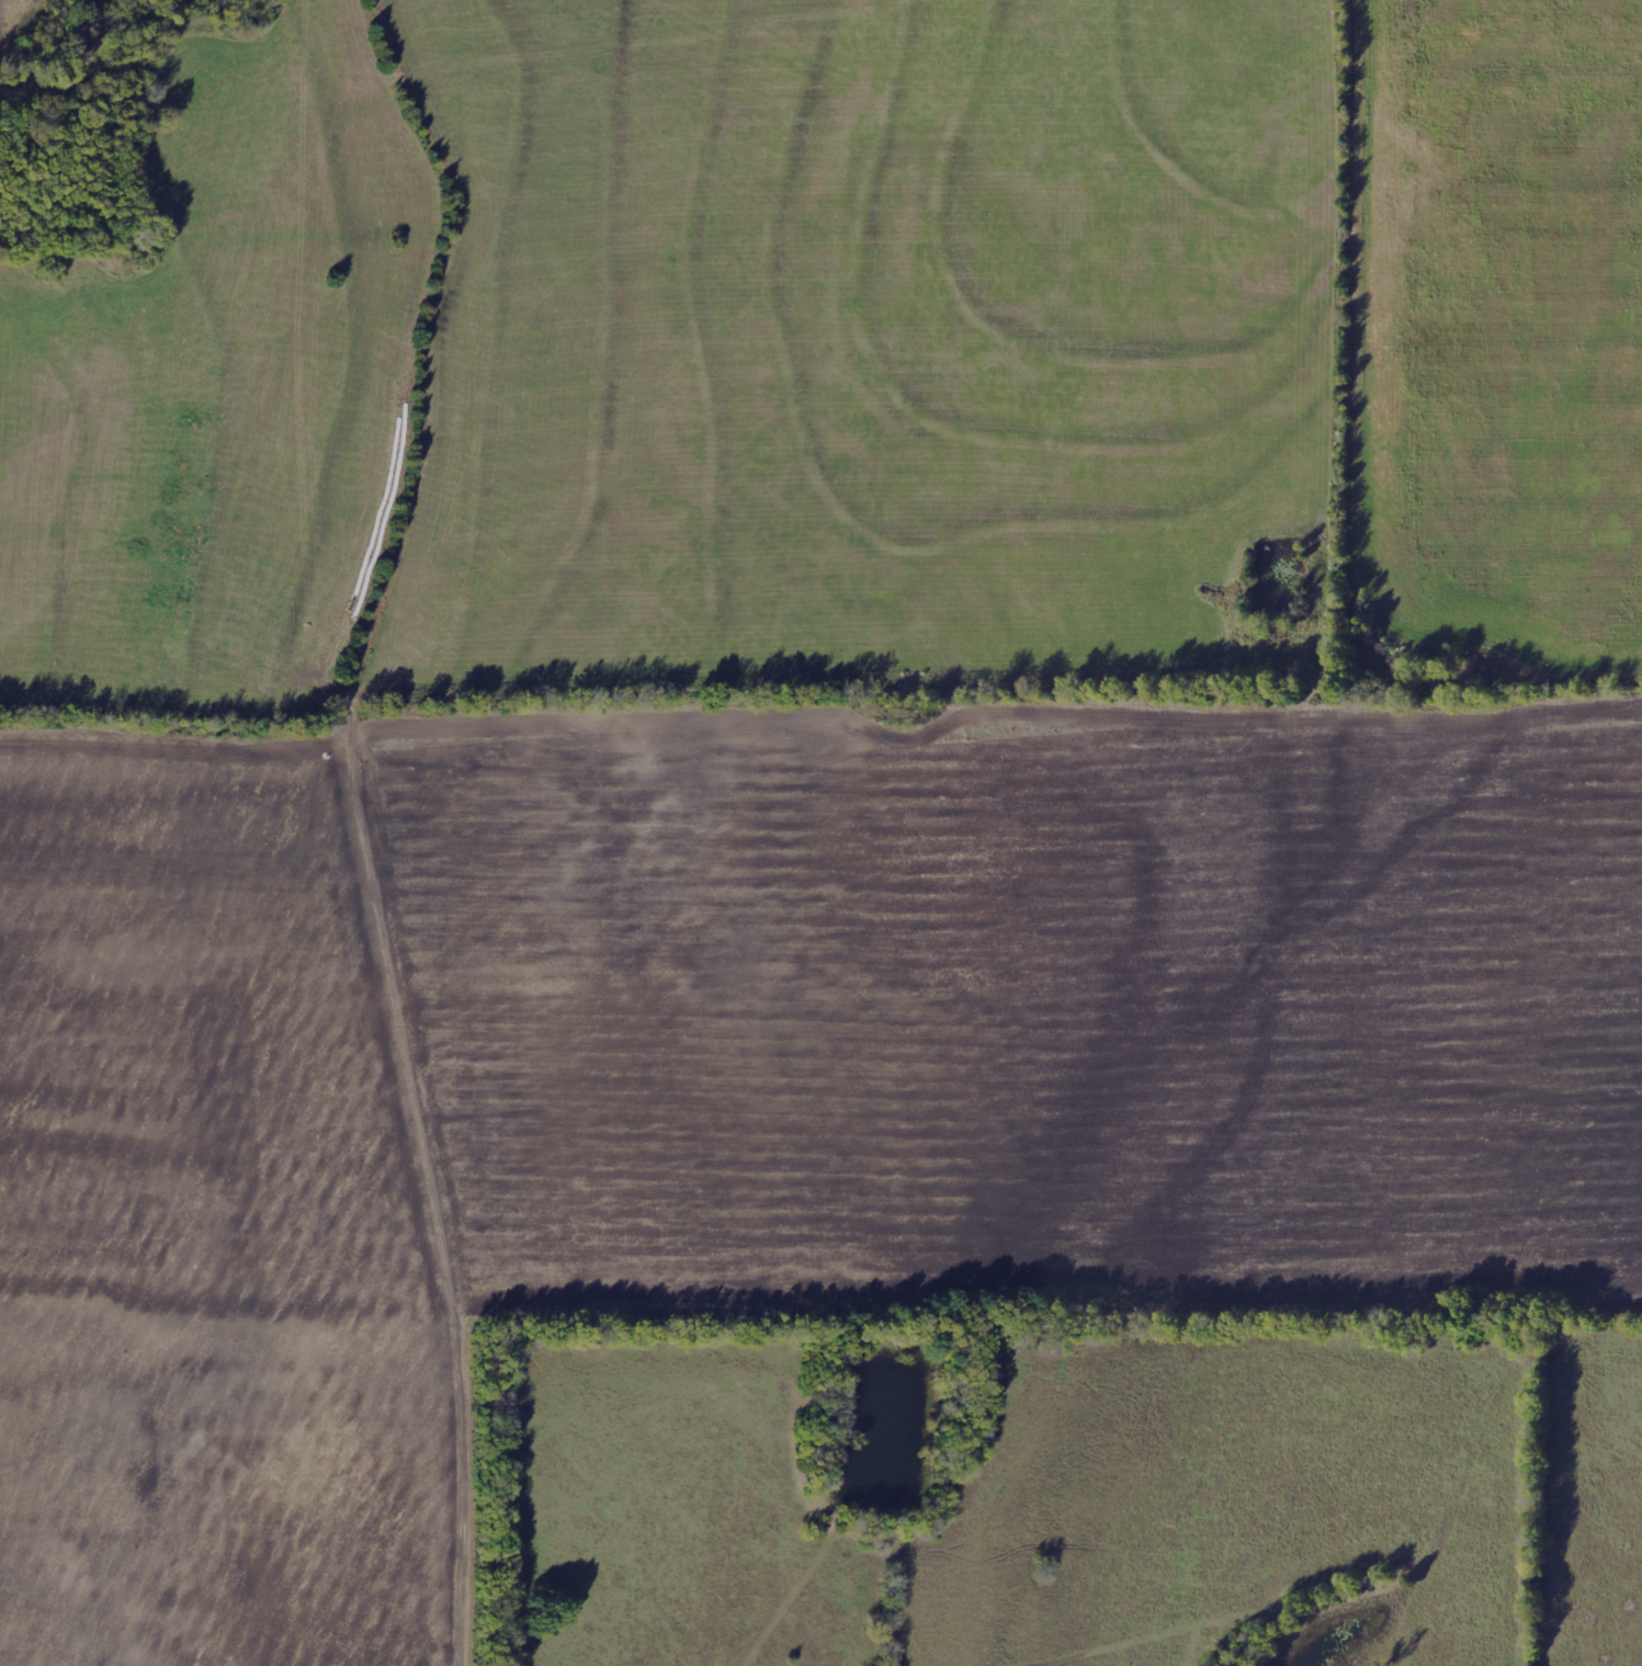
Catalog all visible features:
road: (1364, 467)

